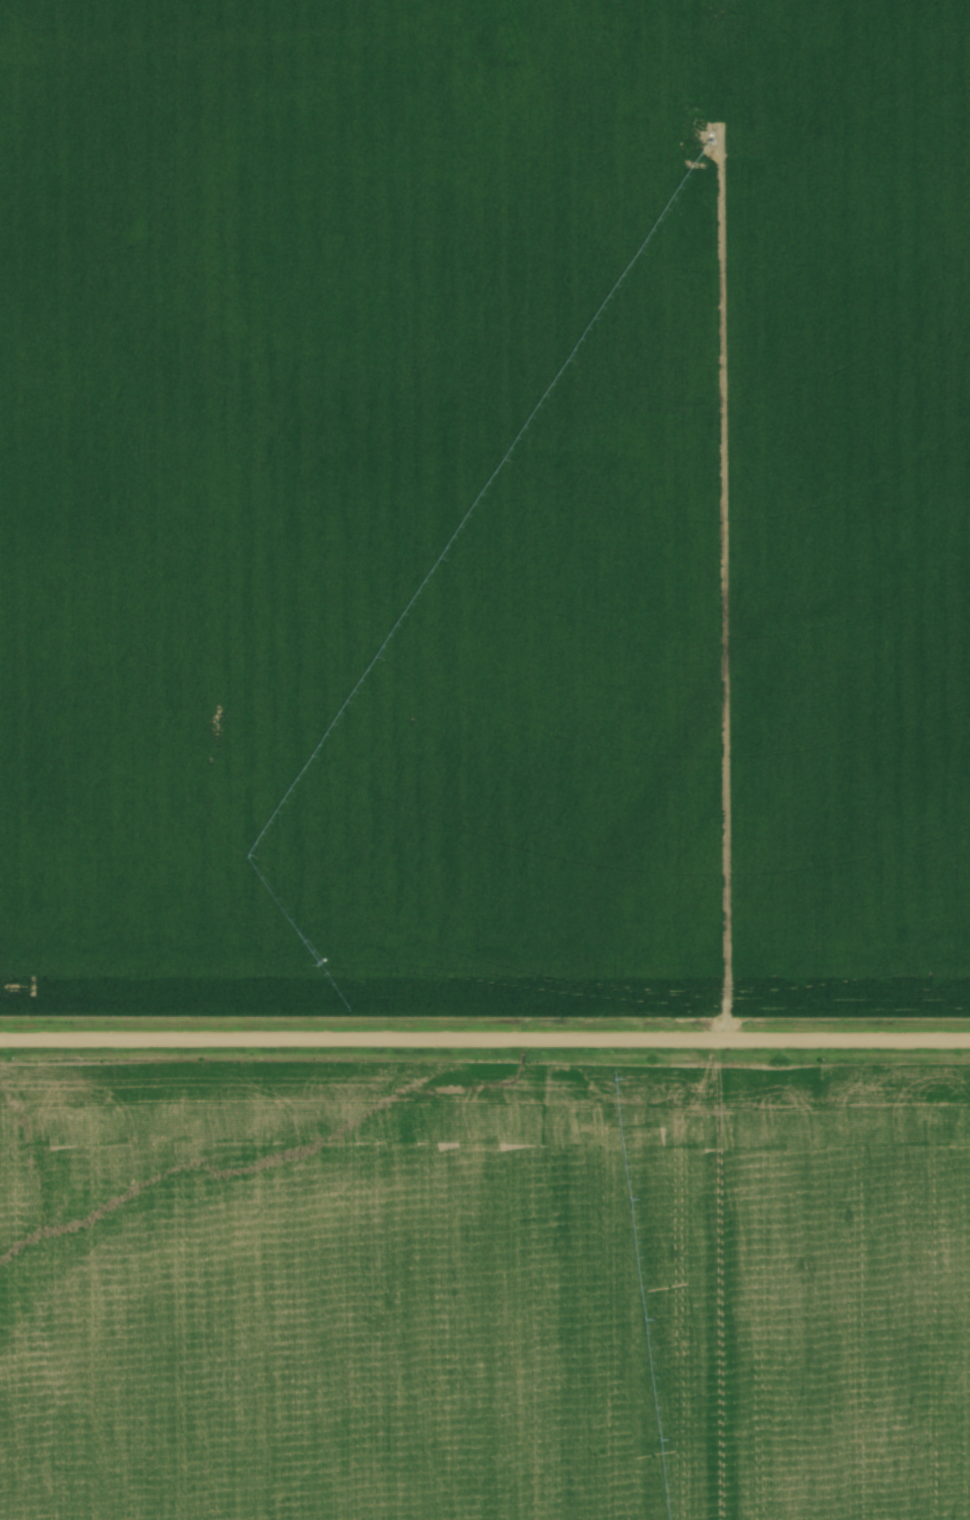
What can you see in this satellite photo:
road: (484, 1043)

